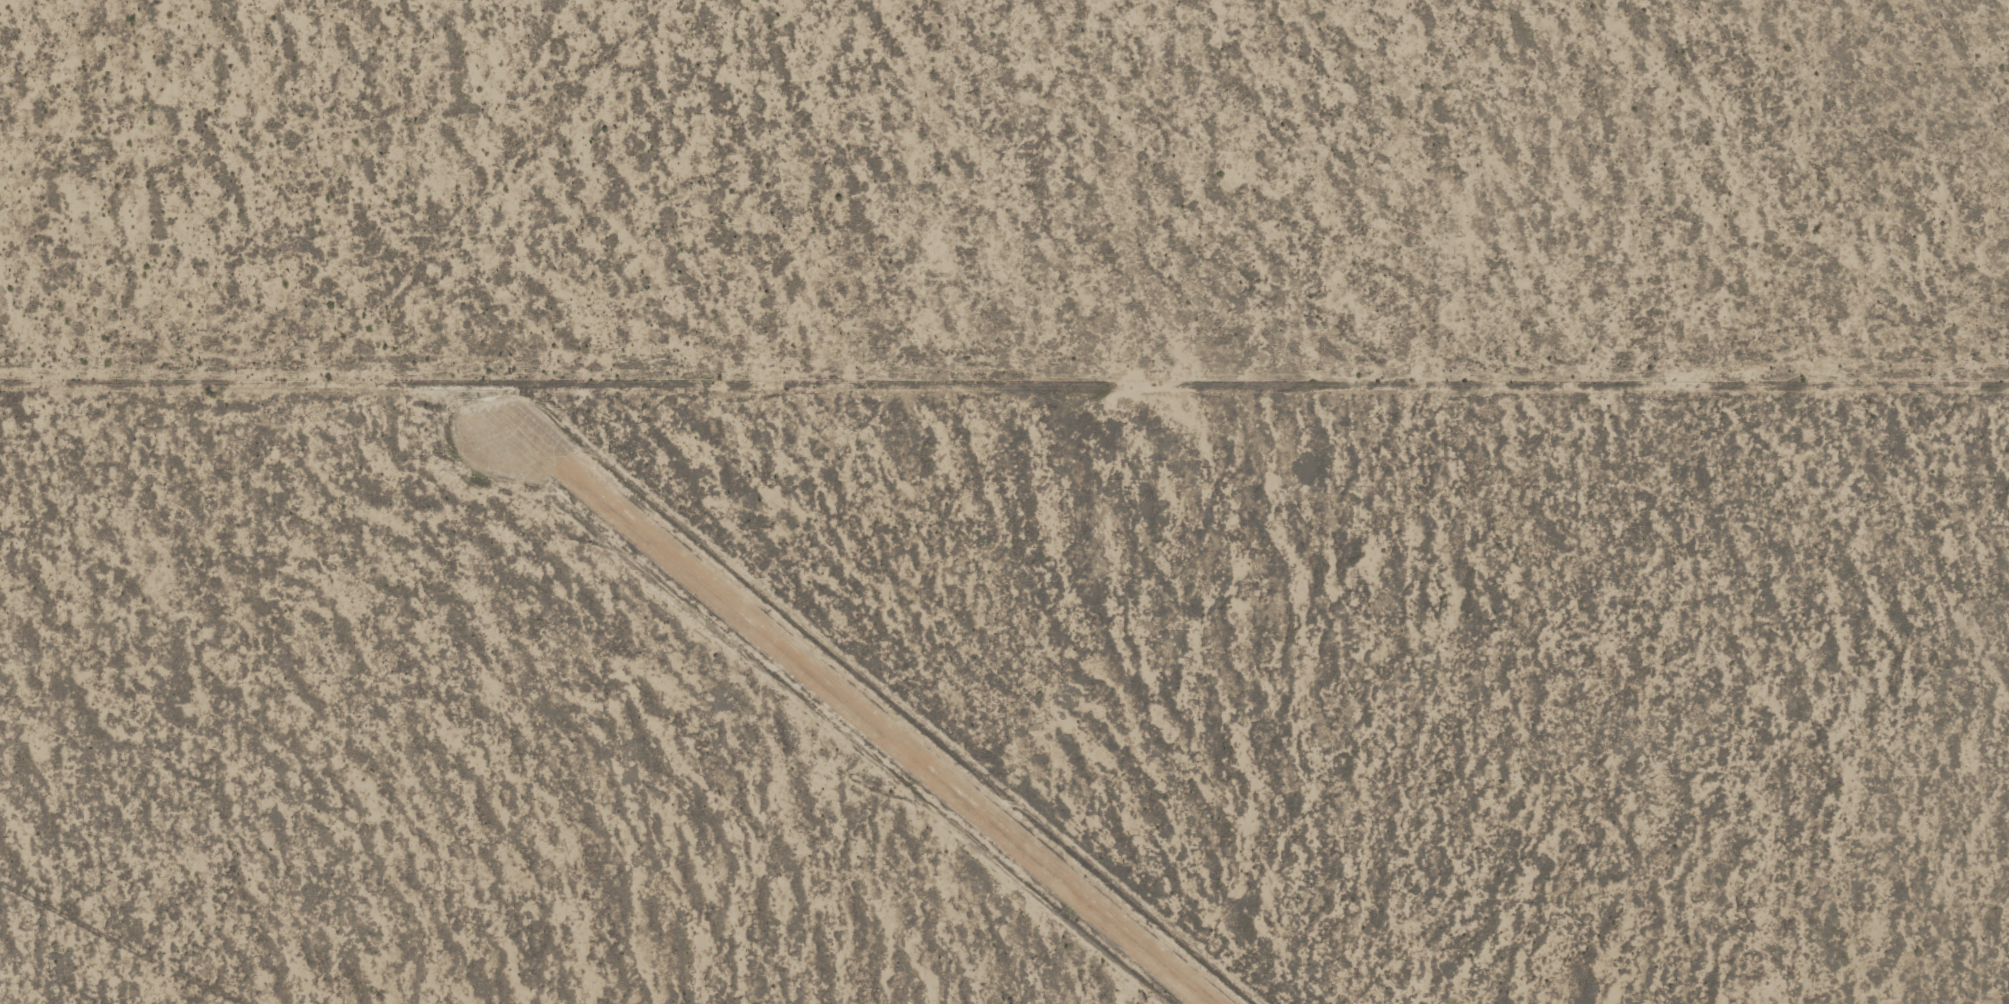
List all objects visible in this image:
road: (1004, 428)
airport runway: (858, 704)
road: (118, 955)

